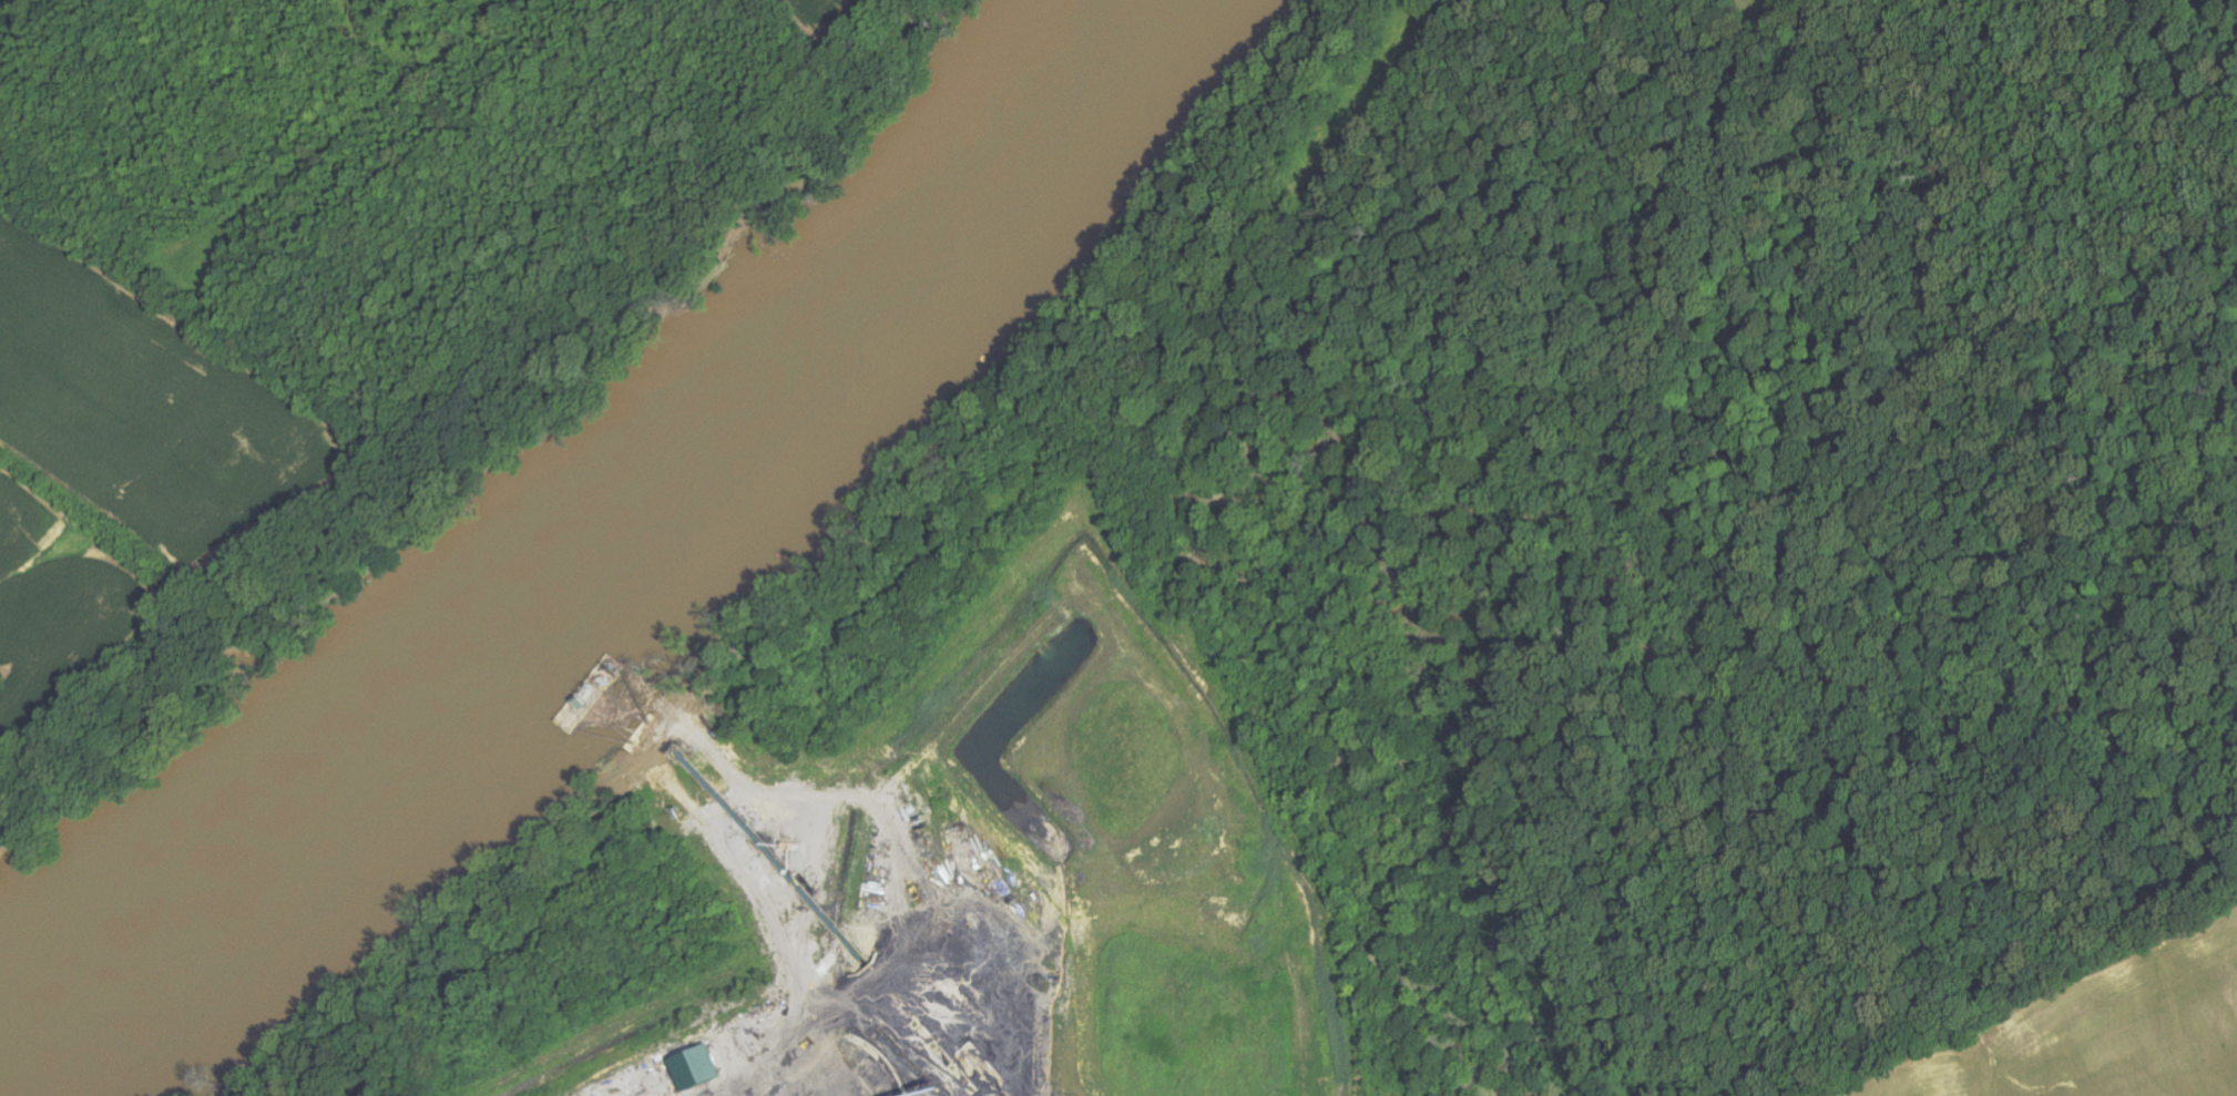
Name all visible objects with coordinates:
river: (572, 556)
road: (813, 939)
building: (702, 1068)

